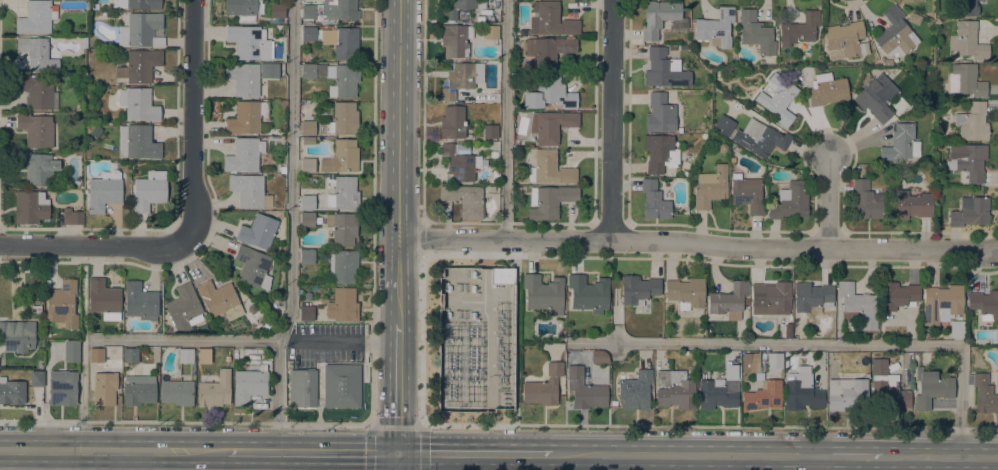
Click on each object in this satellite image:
building: (909, 0)
building: (140, 4)
building: (455, 8)
building: (966, 8)
building: (243, 9)
building: (339, 9)
building: (277, 10)
building: (308, 12)
building: (36, 17)
building: (658, 17)
building: (914, 18)
building: (550, 19)
building: (715, 28)
building: (800, 28)
building: (141, 30)
building: (491, 32)
building: (755, 32)
building: (895, 33)
building: (335, 40)
building: (455, 40)
building: (845, 40)
building: (967, 41)
building: (249, 42)
building: (683, 46)
building: (550, 50)
building: (36, 53)
building: (885, 61)
building: (139, 65)
building: (664, 69)
building: (270, 70)
building: (806, 70)
building: (308, 71)
building: (797, 71)
building: (243, 78)
building: (343, 80)
building: (458, 80)
building: (966, 80)
building: (826, 90)
building: (36, 91)
building: (749, 92)
building: (547, 93)
building: (876, 97)
building: (777, 99)
building: (138, 104)
road: (423, 111)
building: (660, 113)
building: (246, 117)
building: (344, 119)
road: (192, 120)
road: (504, 120)
road: (611, 120)
building: (452, 122)
building: (973, 122)
building: (551, 125)
building: (723, 125)
building: (308, 128)
building: (36, 130)
building: (95, 131)
building: (490, 131)
building: (759, 138)
building: (308, 141)
building: (137, 142)
building: (900, 143)
building: (660, 153)
building: (493, 154)
building: (243, 155)
building: (341, 157)
road: (400, 160)
building: (461, 161)
building: (967, 161)
building: (307, 165)
building: (37, 168)
building: (551, 168)
building: (282, 169)
building: (495, 174)
building: (710, 187)
building: (149, 190)
building: (104, 191)
building: (249, 191)
building: (345, 192)
building: (747, 193)
building: (465, 199)
building: (654, 200)
building: (866, 200)
building: (549, 201)
building: (790, 201)
building: (307, 202)
road: (827, 202)
building: (911, 204)
building: (30, 207)
road: (372, 211)
building: (970, 211)
building: (71, 216)
building: (307, 219)
road: (289, 227)
building: (342, 228)
building: (257, 231)
road: (421, 240)
road: (699, 244)
road: (94, 245)
building: (307, 256)
building: (343, 266)
building: (252, 267)
building: (502, 276)
building: (638, 289)
building: (685, 292)
building: (588, 293)
building: (544, 294)
building: (898, 295)
building: (772, 296)
building: (812, 297)
building: (104, 299)
building: (219, 300)
building: (728, 300)
building: (746, 301)
building: (140, 302)
building: (942, 303)
building: (62, 304)
building: (263, 304)
building: (984, 304)
building: (343, 305)
building: (857, 306)
building: (182, 307)
building: (306, 313)
building: (957, 328)
building: (17, 335)
building: (787, 335)
building: (488, 338)
power substation: (477, 339)
road: (184, 341)
road: (338, 342)
road: (422, 342)
road: (817, 344)
building: (71, 351)
building: (96, 355)
building: (131, 355)
building: (203, 355)
building: (185, 356)
building: (599, 356)
building: (774, 360)
building: (750, 362)
building: (879, 366)
building: (326, 371)
building: (36, 377)
building: (249, 383)
building: (544, 386)
road: (399, 387)
building: (62, 388)
building: (104, 388)
building: (931, 388)
building: (674, 389)
building: (215, 390)
building: (489, 390)
building: (585, 390)
building: (801, 390)
building: (12, 391)
building: (635, 391)
building: (177, 392)
building: (138, 393)
building: (846, 393)
building: (888, 393)
building: (984, 394)
building: (715, 395)
building: (763, 395)
road: (185, 421)
road: (396, 423)
road: (710, 426)
road: (114, 451)
road: (313, 452)
traffic signals: (398, 453)
road: (476, 453)
road: (685, 455)
road: (848, 456)
road: (939, 456)
road: (398, 461)
road: (815, 463)

